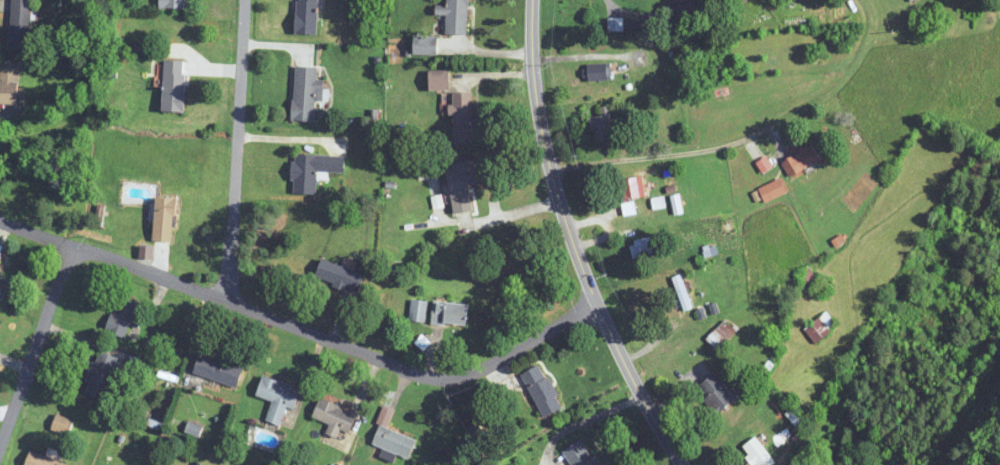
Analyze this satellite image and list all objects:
building: (911, 0)
building: (176, 4)
building: (688, 10)
road: (635, 13)
building: (455, 16)
building: (307, 17)
building: (21, 24)
road: (581, 56)
building: (599, 72)
building: (439, 80)
building: (9, 83)
building: (174, 85)
building: (306, 93)
building: (463, 118)
building: (603, 123)
road: (747, 140)
road: (237, 150)
building: (801, 161)
building: (312, 170)
building: (462, 184)
building: (631, 188)
building: (773, 190)
road: (501, 217)
building: (164, 219)
road: (574, 242)
building: (644, 247)
building: (0, 256)
building: (338, 275)
building: (806, 277)
building: (3, 286)
building: (682, 292)
building: (450, 313)
building: (123, 317)
road: (302, 327)
building: (820, 327)
building: (721, 334)
road: (36, 341)
building: (218, 370)
building: (99, 375)
building: (542, 391)
building: (716, 392)
building: (278, 397)
building: (334, 417)
building: (61, 426)
building: (394, 442)
building: (758, 453)
building: (41, 460)

